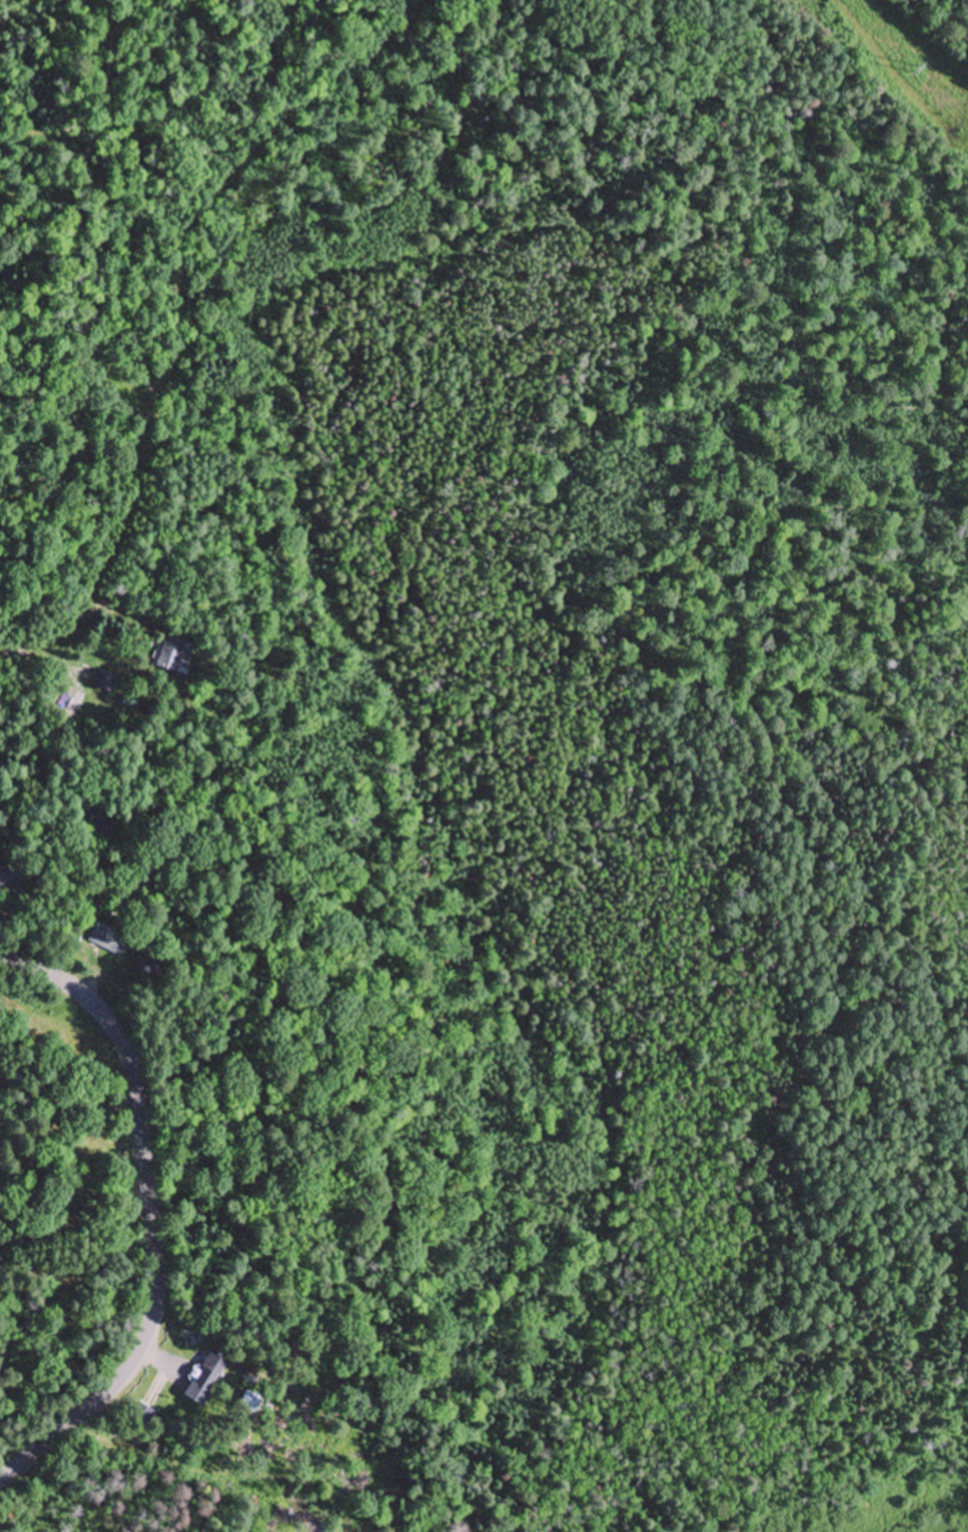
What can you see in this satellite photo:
power tower: (915, 71)
road: (60, 630)
building: (175, 657)
building: (106, 682)
building: (12, 878)
building: (108, 939)
road: (148, 1214)
road: (327, 1288)
building: (207, 1379)

